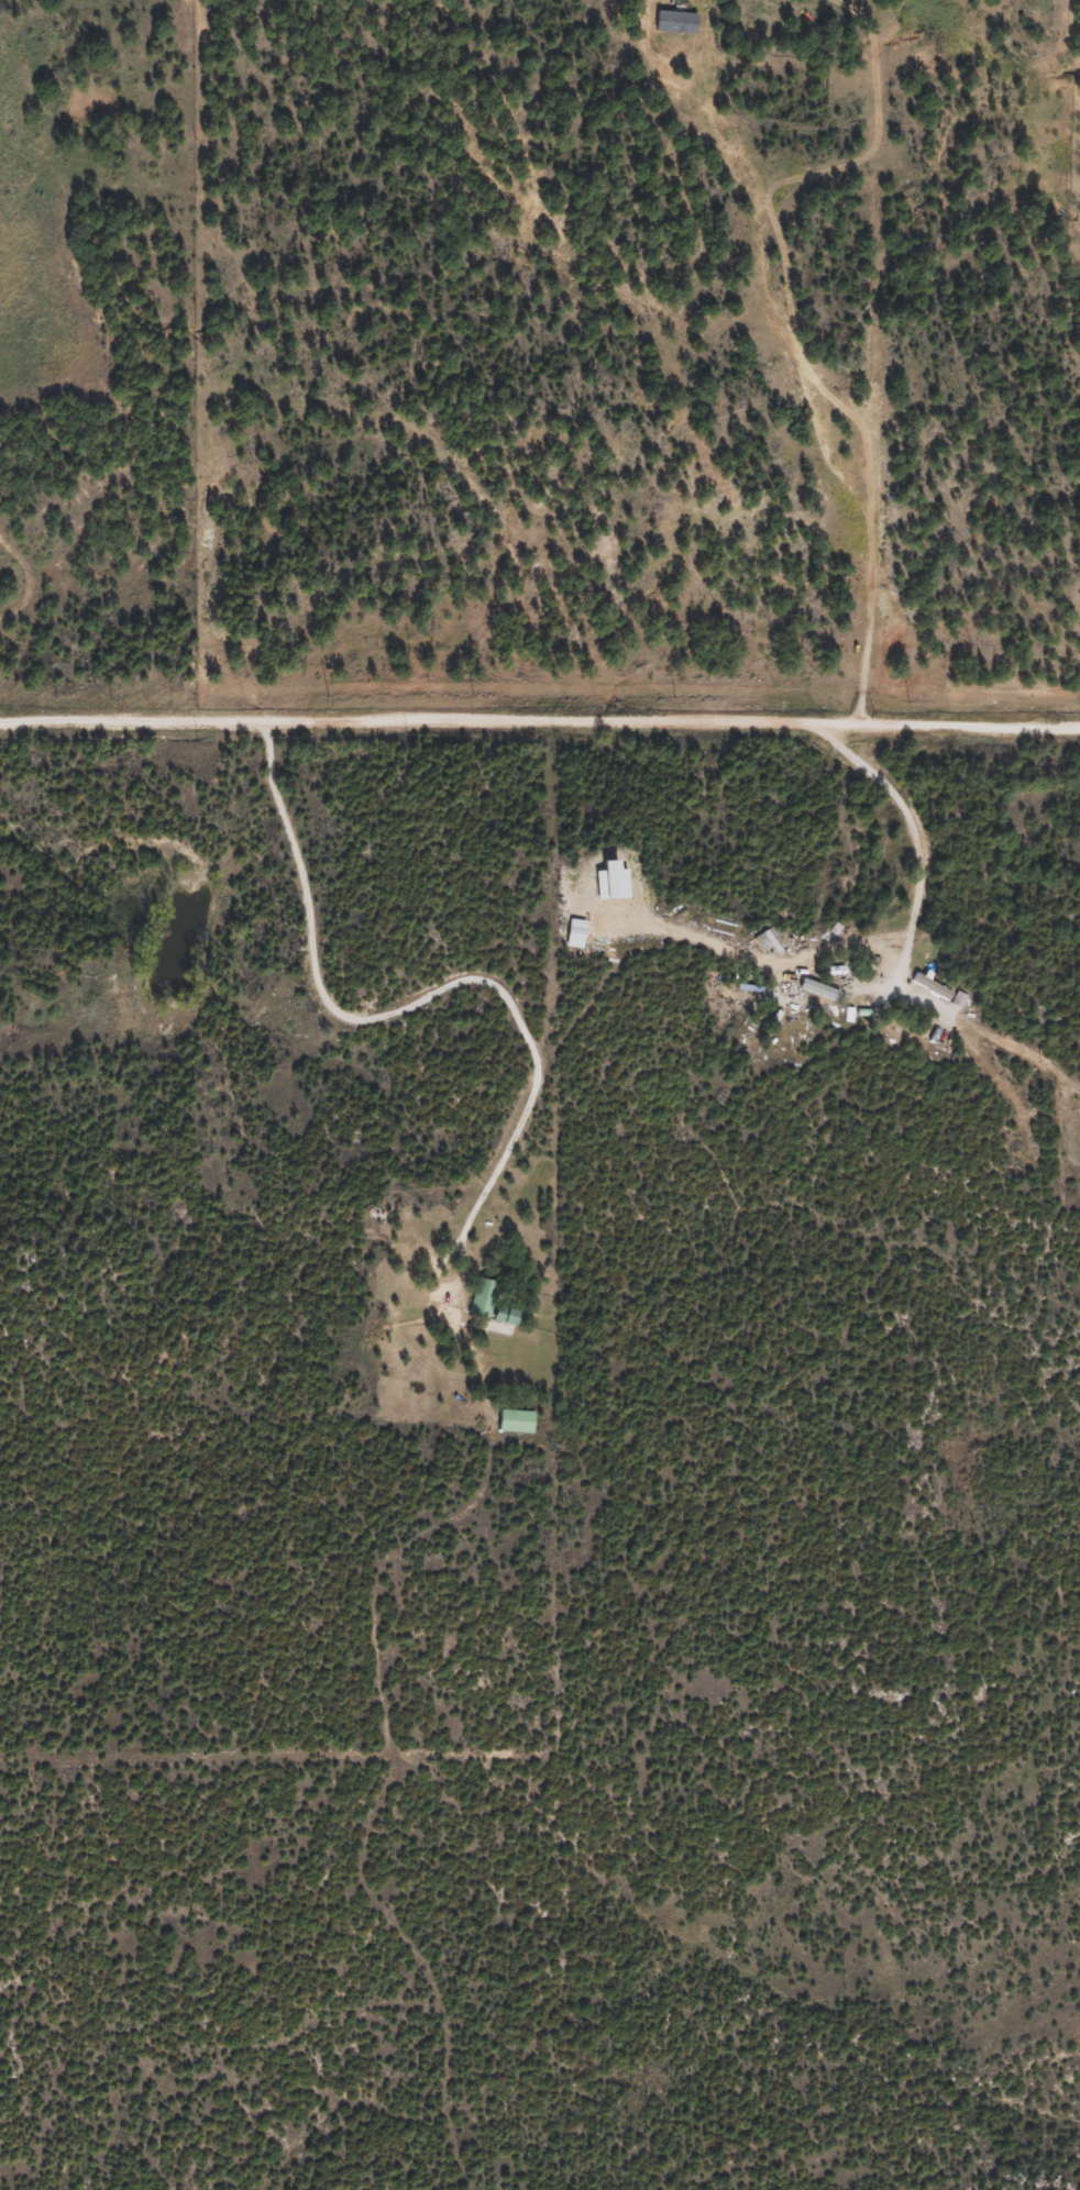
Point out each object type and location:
building: (3, 141)
building: (63, 580)
road: (540, 716)
building: (933, 986)
building: (850, 993)
building: (484, 1297)
building: (509, 1315)
building: (518, 1420)

